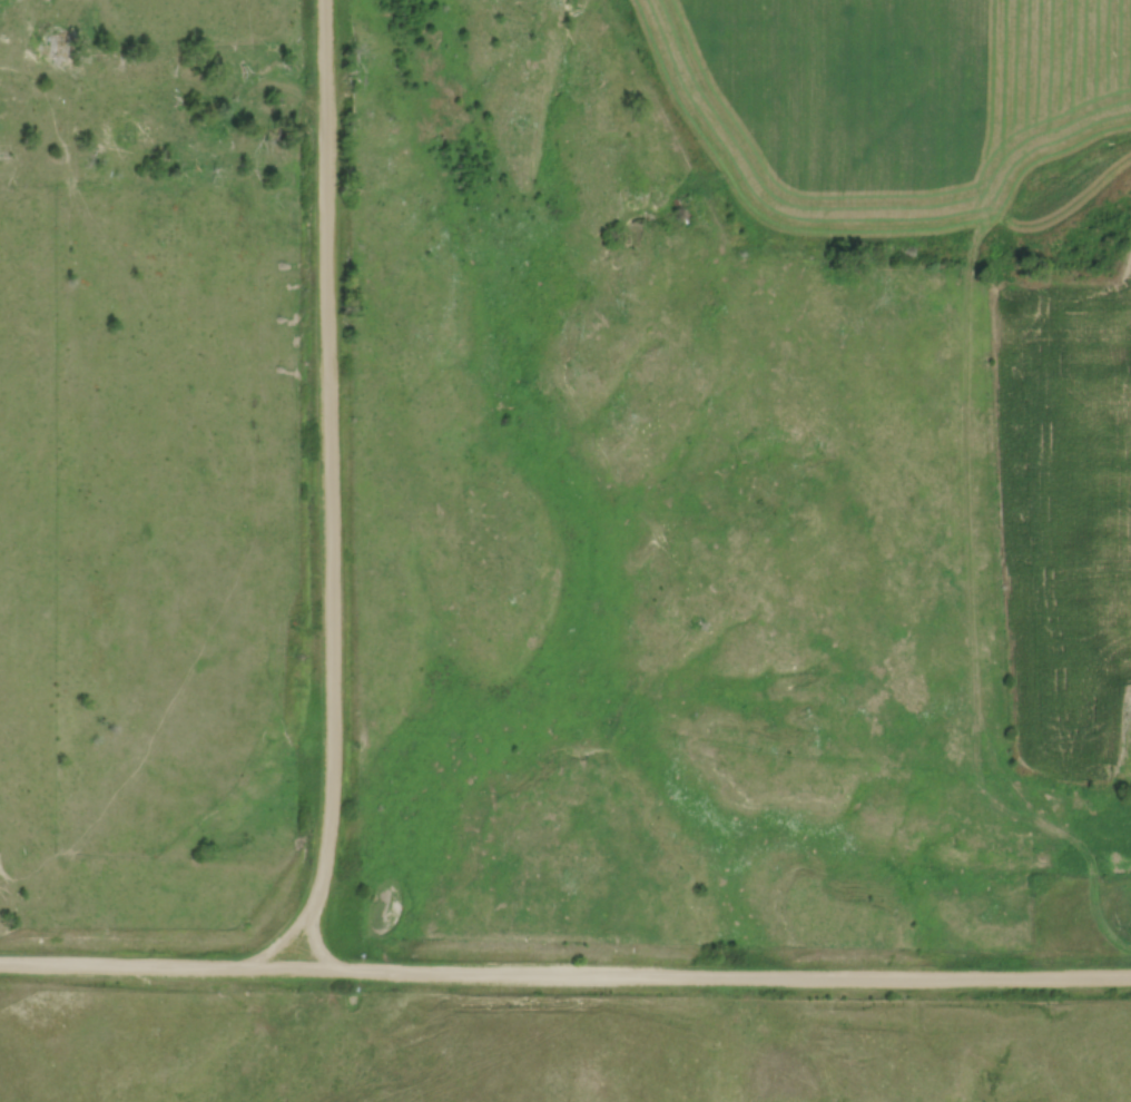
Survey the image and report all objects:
road: (330, 499)
road: (564, 975)

